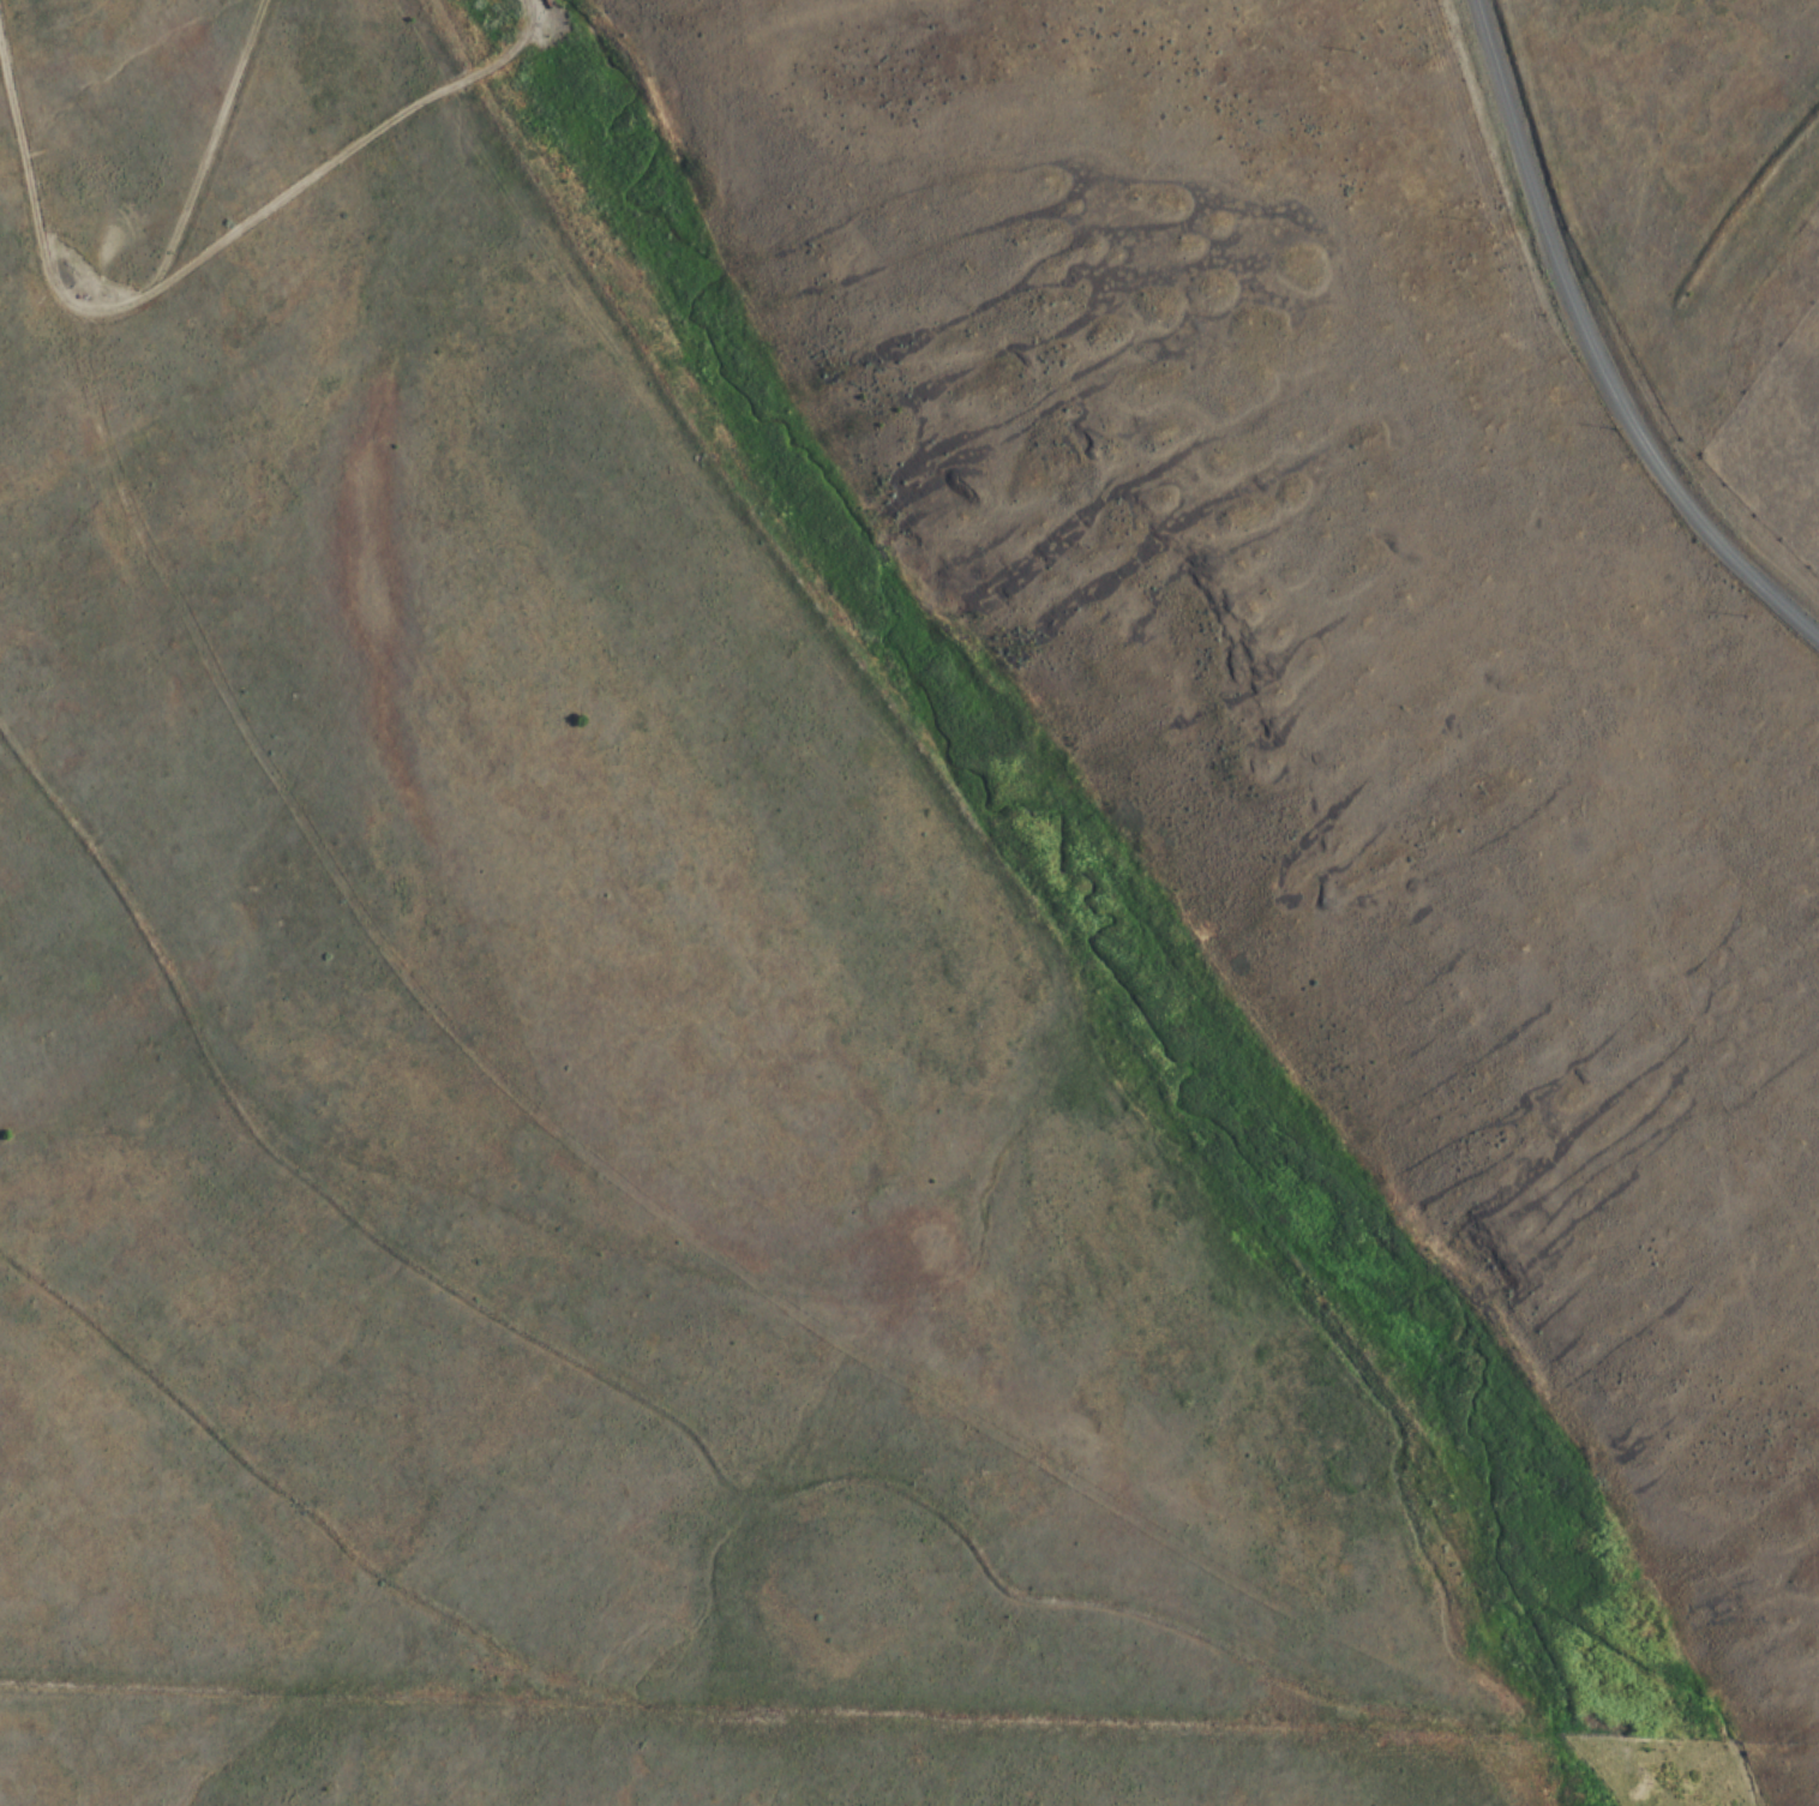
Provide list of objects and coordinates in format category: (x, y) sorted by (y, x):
road: (1601, 340)

